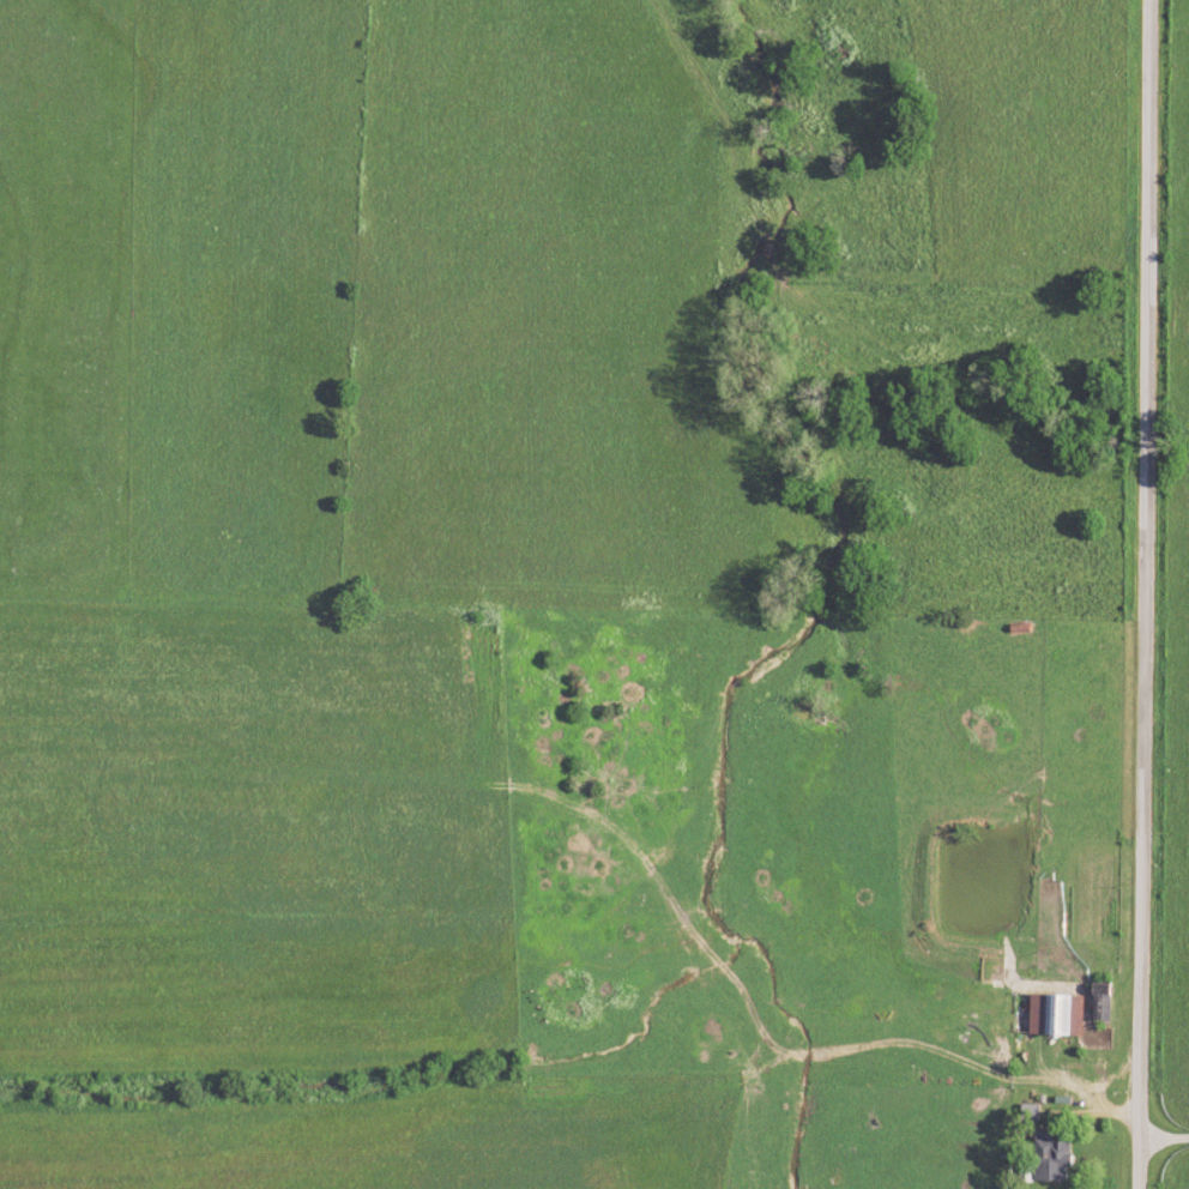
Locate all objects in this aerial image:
road: (1142, 594)
road: (1086, 1100)
road: (1161, 1140)

